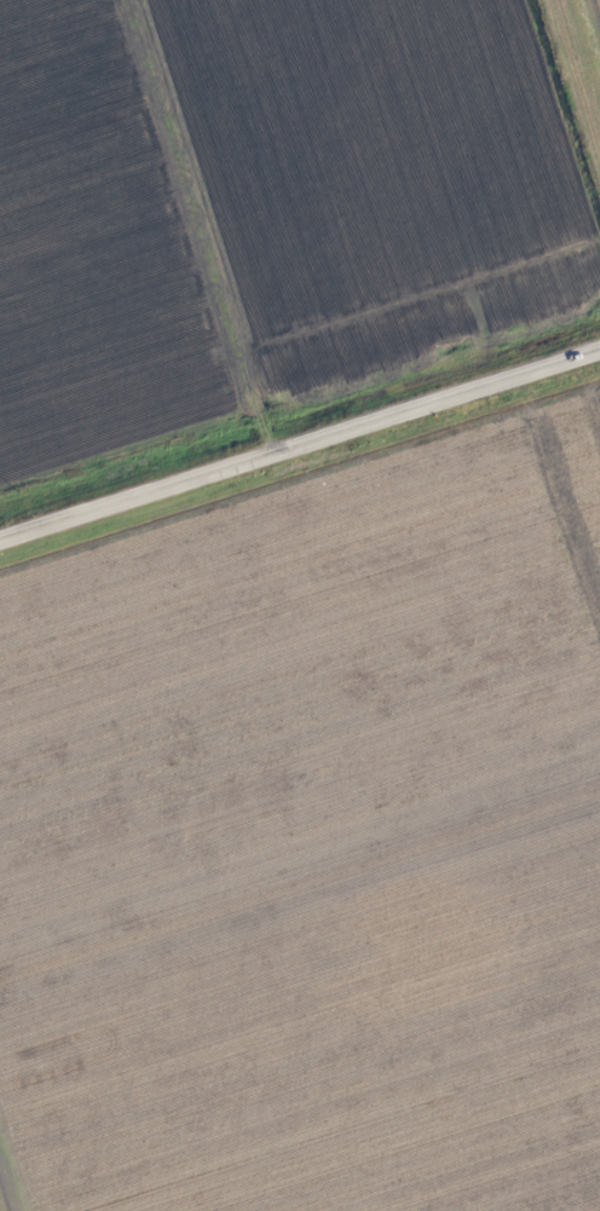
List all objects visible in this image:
road: (567, 105)
road: (300, 450)

